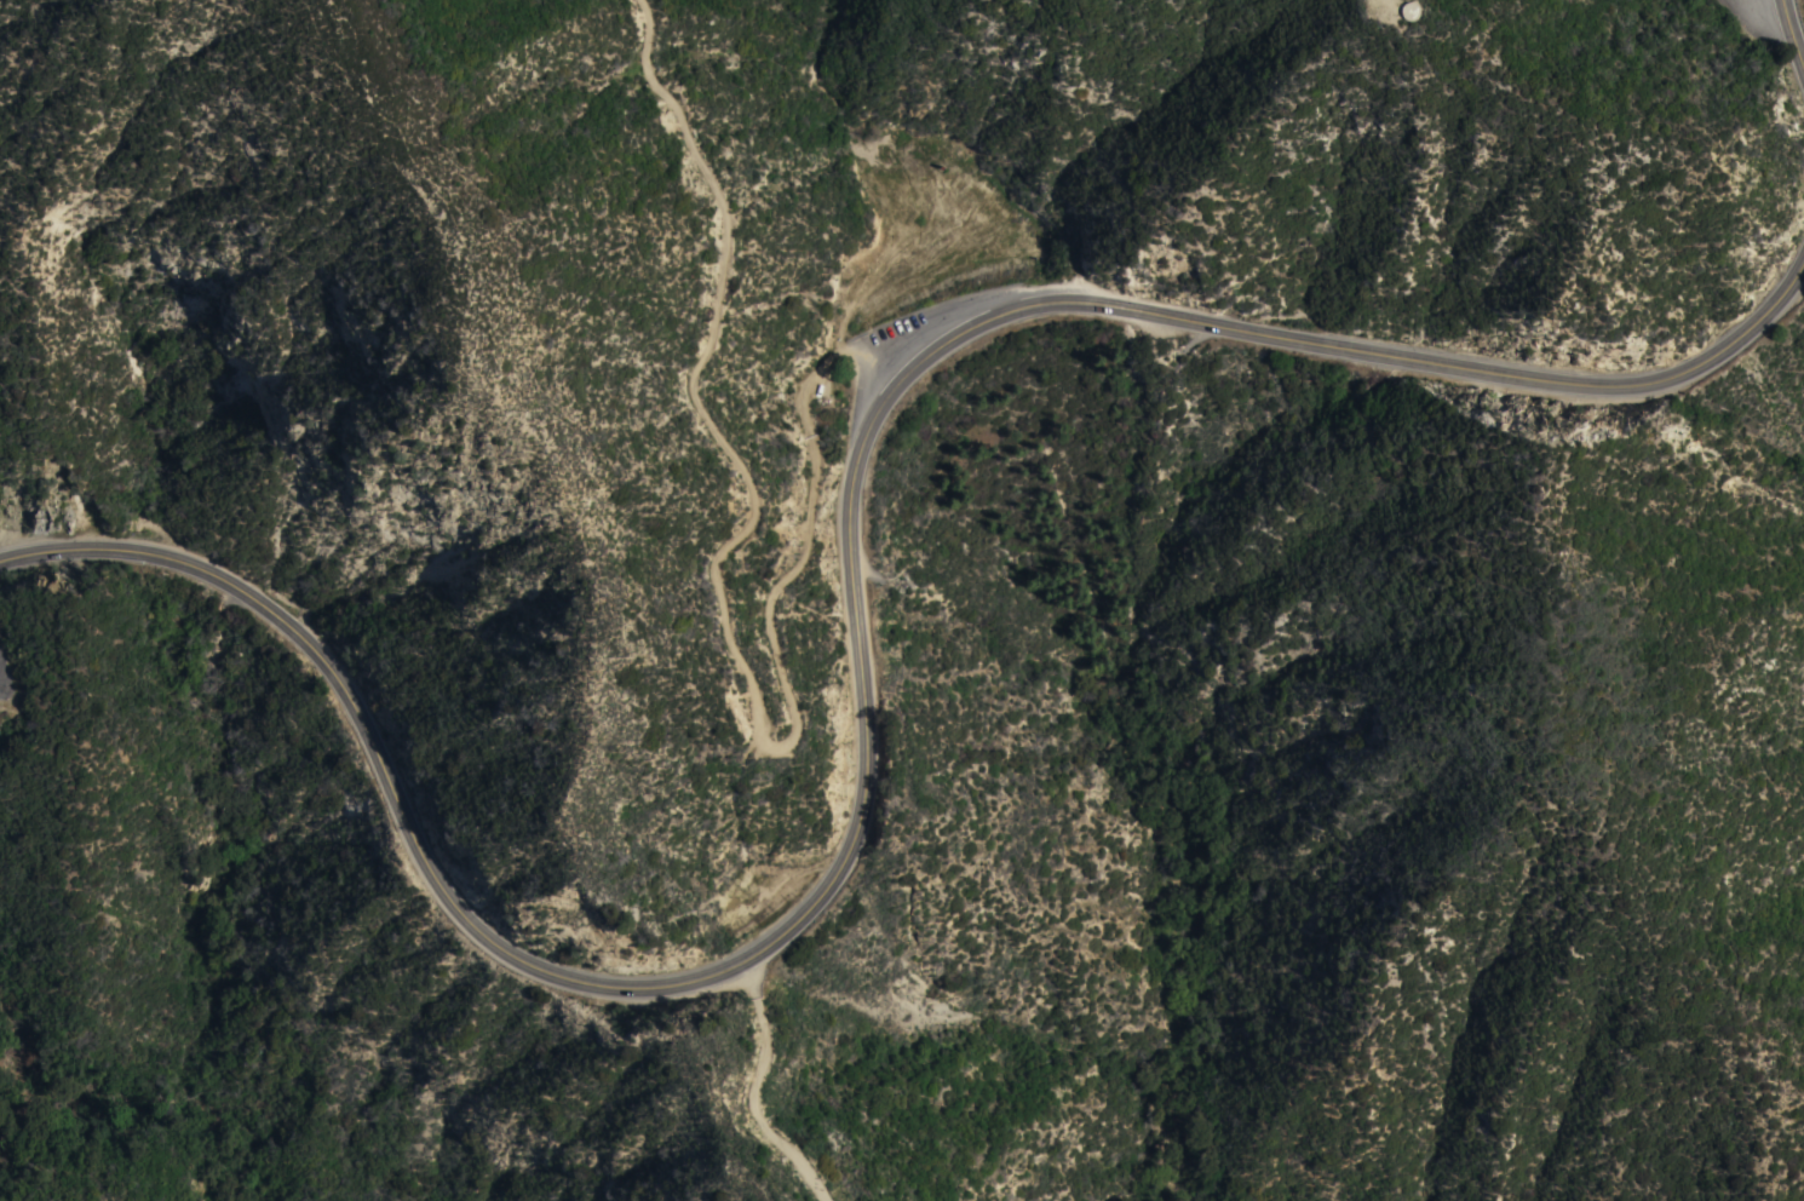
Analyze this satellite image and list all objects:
road: (1771, 5)
building: (1409, 11)
storage tank: (1409, 11)
parking lot: (1759, 16)
road: (1793, 29)
parking lot: (914, 323)
road: (717, 604)
road: (866, 676)
road: (752, 1094)

